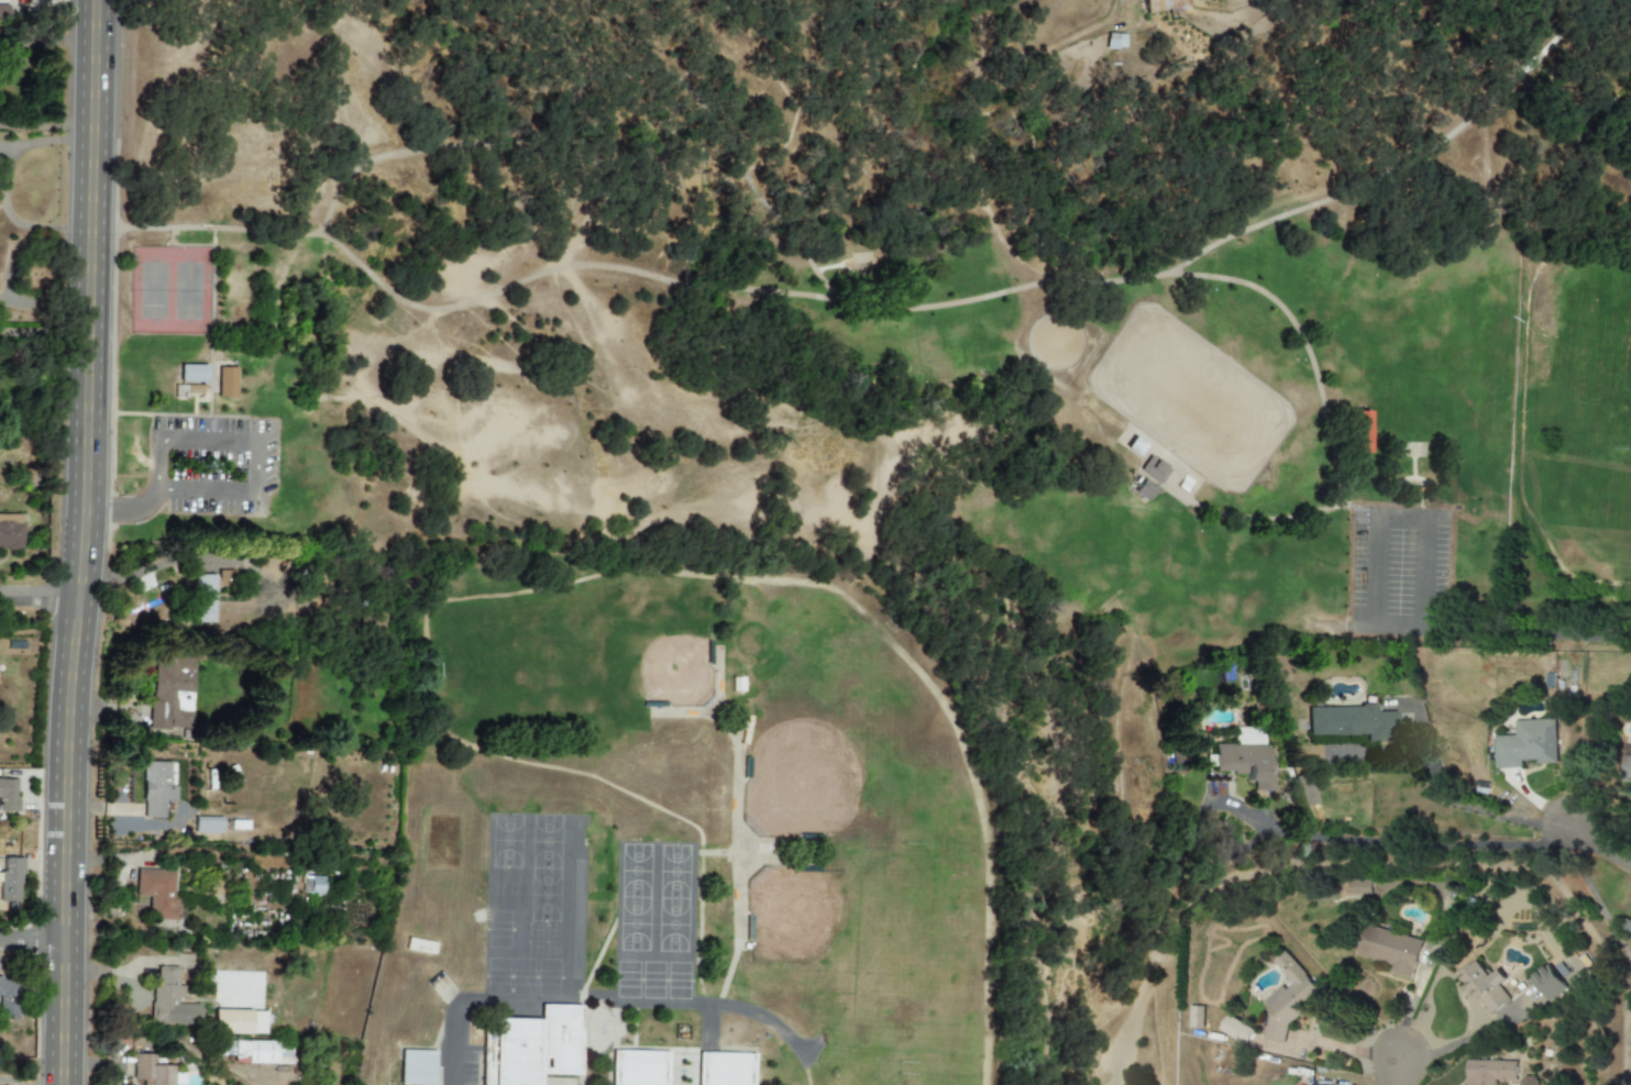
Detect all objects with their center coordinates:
building: (1166, 4)
building: (3, 11)
road: (47, 38)
building: (1114, 38)
road: (598, 82)
road: (46, 124)
road: (4, 185)
park: (170, 291)
park: (895, 307)
road: (886, 311)
road: (43, 329)
road: (1307, 350)
park: (1447, 361)
building: (192, 374)
building: (227, 383)
building: (1359, 432)
road: (255, 443)
building: (1134, 446)
parking lot: (212, 465)
building: (1154, 469)
building: (1140, 486)
road: (123, 511)
road: (1264, 519)
building: (10, 532)
road: (1376, 533)
road: (81, 542)
parking lot: (1400, 571)
building: (223, 578)
road: (40, 594)
building: (202, 598)
road: (1541, 635)
park: (681, 677)
building: (170, 695)
building: (1348, 722)
building: (1528, 742)
building: (1246, 762)
building: (1627, 768)
building: (156, 789)
building: (8, 795)
building: (1307, 795)
road: (1464, 805)
building: (208, 826)
road: (1410, 843)
road: (1599, 844)
building: (10, 879)
road: (121, 883)
building: (312, 885)
building: (1358, 885)
building: (158, 895)
road: (1593, 901)
park: (798, 911)
building: (1628, 928)
road: (31, 941)
building: (1389, 948)
building: (1551, 982)
building: (1485, 985)
building: (1290, 995)
building: (8, 997)
building: (169, 999)
road: (608, 1005)
building: (1197, 1015)
building: (231, 1022)
building: (1237, 1028)
road: (1467, 1039)
building: (529, 1044)
building: (257, 1052)
building: (725, 1065)
building: (640, 1066)
building: (417, 1067)
building: (151, 1072)
road: (1395, 1072)
building: (1492, 1072)
building: (1528, 1081)

